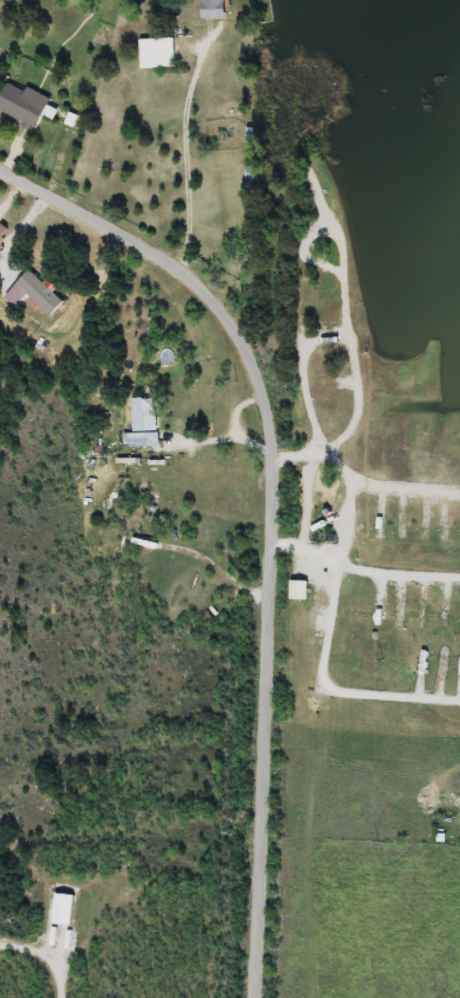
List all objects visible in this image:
building: (217, 10)
building: (160, 54)
building: (1, 70)
building: (27, 106)
building: (252, 177)
building: (42, 294)
building: (145, 426)
road: (245, 549)
building: (65, 909)

